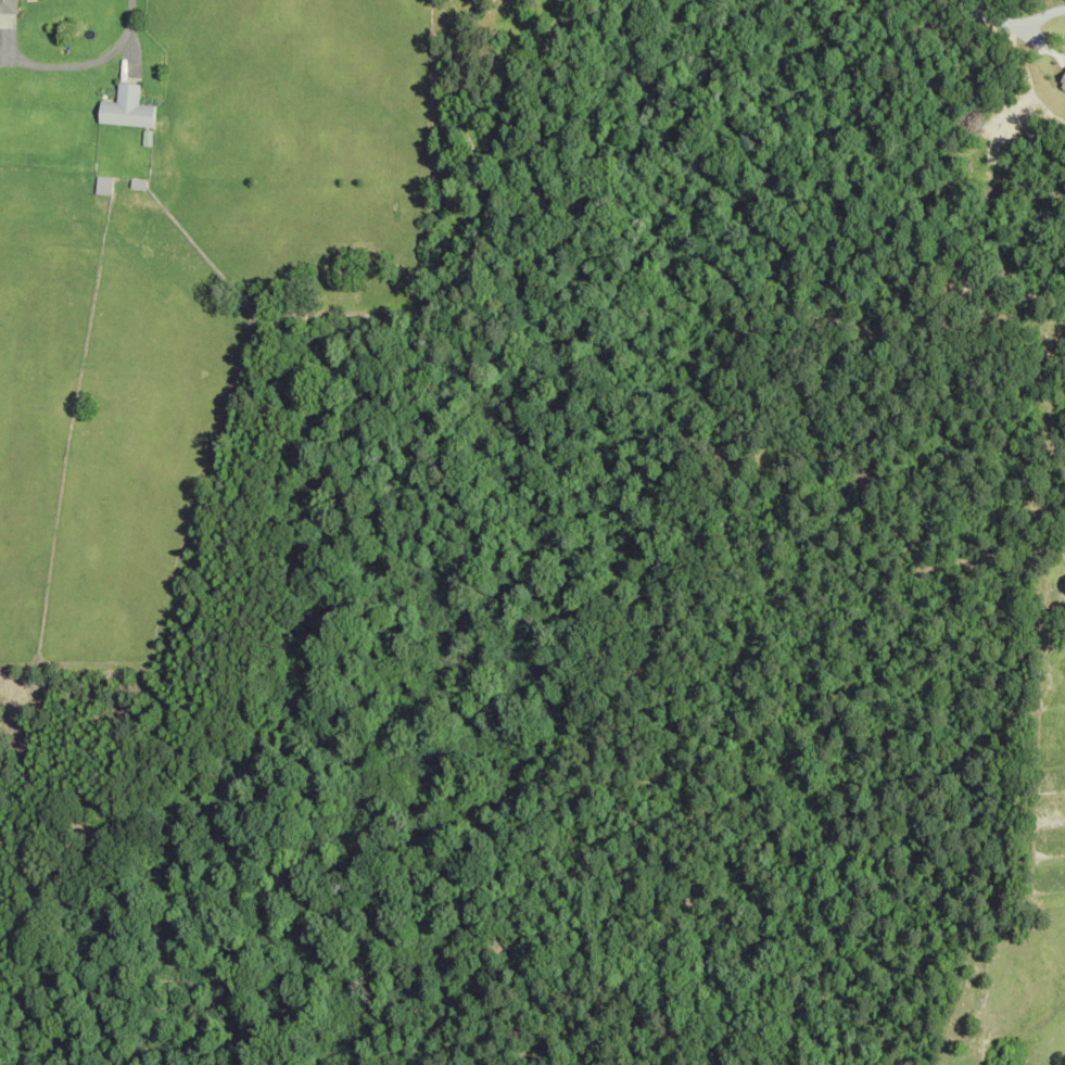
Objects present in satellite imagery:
building: (7, 5)
road: (127, 16)
road: (1009, 18)
building: (125, 109)

